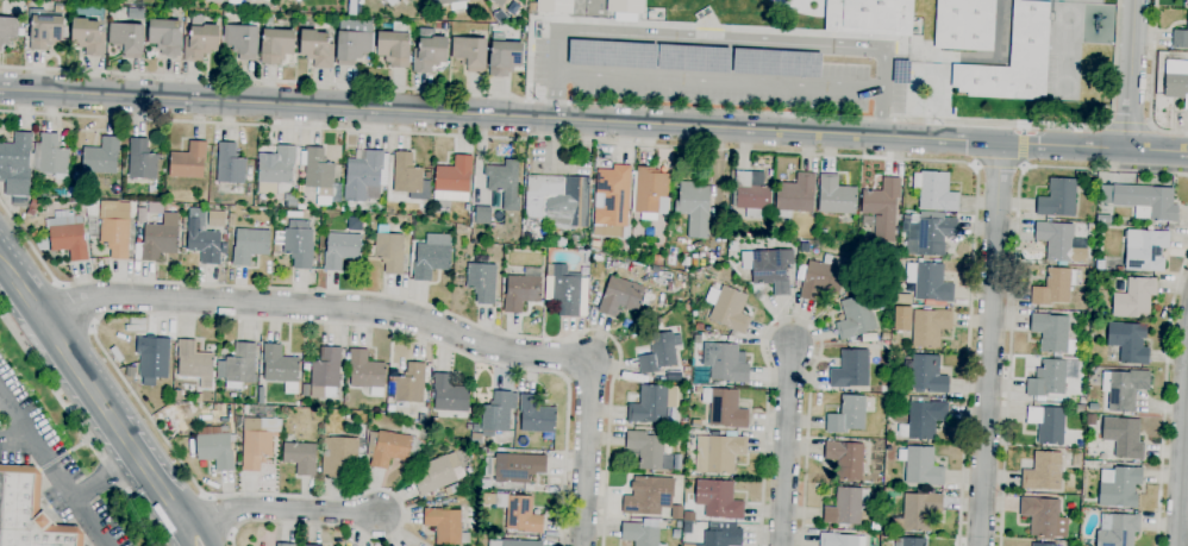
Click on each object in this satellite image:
building: (70, 0)
building: (294, 0)
building: (1017, 0)
building: (388, 1)
building: (495, 1)
building: (235, 2)
building: (1186, 2)
building: (451, 4)
building: (554, 6)
building: (352, 7)
building: (136, 13)
building: (869, 17)
building: (964, 25)
building: (438, 26)
building: (10, 30)
building: (46, 30)
building: (88, 37)
building: (165, 37)
building: (498, 37)
building: (242, 38)
building: (1180, 38)
building: (126, 39)
building: (200, 39)
road: (720, 40)
building: (354, 42)
building: (276, 45)
building: (395, 45)
building: (317, 49)
building: (429, 51)
building: (470, 54)
building: (648, 56)
building: (504, 58)
building: (1013, 61)
building: (775, 63)
road: (1131, 74)
road: (1150, 81)
building: (1176, 81)
road: (719, 82)
road: (615, 105)
road: (593, 120)
road: (1130, 126)
road: (1023, 145)
road: (679, 148)
building: (50, 157)
building: (101, 157)
building: (142, 159)
building: (188, 162)
road: (999, 163)
building: (230, 164)
building: (17, 168)
building: (275, 169)
building: (318, 171)
building: (427, 175)
building: (364, 176)
building: (409, 177)
building: (454, 180)
building: (504, 183)
building: (649, 190)
building: (70, 192)
building: (934, 192)
building: (795, 195)
building: (751, 196)
building: (834, 196)
building: (1058, 199)
building: (290, 200)
building: (558, 200)
building: (1143, 201)
building: (612, 202)
building: (336, 206)
building: (32, 207)
building: (467, 207)
building: (693, 207)
building: (881, 209)
building: (482, 215)
building: (215, 219)
building: (1103, 219)
building: (1090, 227)
building: (115, 230)
building: (33, 233)
building: (157, 233)
building: (64, 237)
building: (930, 237)
building: (1056, 240)
building: (206, 243)
building: (788, 243)
building: (295, 244)
building: (595, 244)
building: (250, 245)
building: (340, 250)
building: (387, 250)
building: (1145, 250)
building: (432, 256)
building: (584, 256)
building: (657, 259)
road: (1, 261)
building: (684, 263)
road: (1, 265)
building: (1100, 265)
building: (1119, 269)
building: (771, 270)
road: (1013, 272)
building: (823, 277)
building: (481, 282)
building: (928, 282)
building: (1053, 287)
building: (523, 290)
building: (567, 291)
building: (619, 296)
road: (393, 299)
building: (1133, 300)
road: (75, 303)
building: (730, 309)
road: (104, 313)
road: (790, 315)
road: (412, 318)
building: (854, 318)
building: (699, 327)
building: (928, 327)
building: (1053, 334)
building: (868, 338)
building: (696, 339)
road: (988, 344)
building: (1127, 344)
building: (659, 352)
road: (1187, 356)
building: (152, 357)
building: (725, 362)
building: (194, 363)
building: (238, 366)
building: (281, 368)
building: (851, 369)
building: (686, 371)
building: (325, 372)
building: (367, 372)
building: (674, 376)
building: (926, 376)
building: (1046, 379)
building: (407, 385)
building: (1124, 389)
building: (449, 394)
road: (95, 395)
building: (176, 395)
building: (261, 395)
road: (1163, 395)
building: (198, 397)
building: (652, 404)
building: (724, 408)
building: (495, 415)
building: (536, 415)
building: (846, 415)
road: (15, 418)
building: (921, 419)
building: (682, 423)
building: (1048, 423)
building: (474, 427)
road: (80, 431)
building: (689, 432)
building: (1123, 437)
road: (784, 445)
road: (1182, 445)
building: (214, 447)
building: (255, 448)
building: (387, 448)
building: (515, 451)
building: (648, 451)
building: (718, 453)
building: (340, 456)
building: (301, 457)
building: (845, 459)
building: (1076, 460)
building: (920, 466)
building: (518, 467)
building: (1043, 471)
building: (438, 473)
road: (104, 477)
road: (58, 479)
building: (1119, 487)
building: (454, 489)
building: (648, 496)
building: (718, 500)
building: (846, 506)
road: (279, 509)
building: (919, 510)
building: (29, 513)
building: (519, 513)
building: (1043, 517)
building: (876, 522)
building: (677, 525)
building: (445, 526)
building: (884, 528)
building: (1117, 529)
building: (639, 534)
road: (200, 535)
building: (721, 535)
road: (187, 536)
building: (838, 539)
building: (913, 541)
building: (512, 542)
building: (286, 544)
building: (1043, 544)
building: (309, 545)

